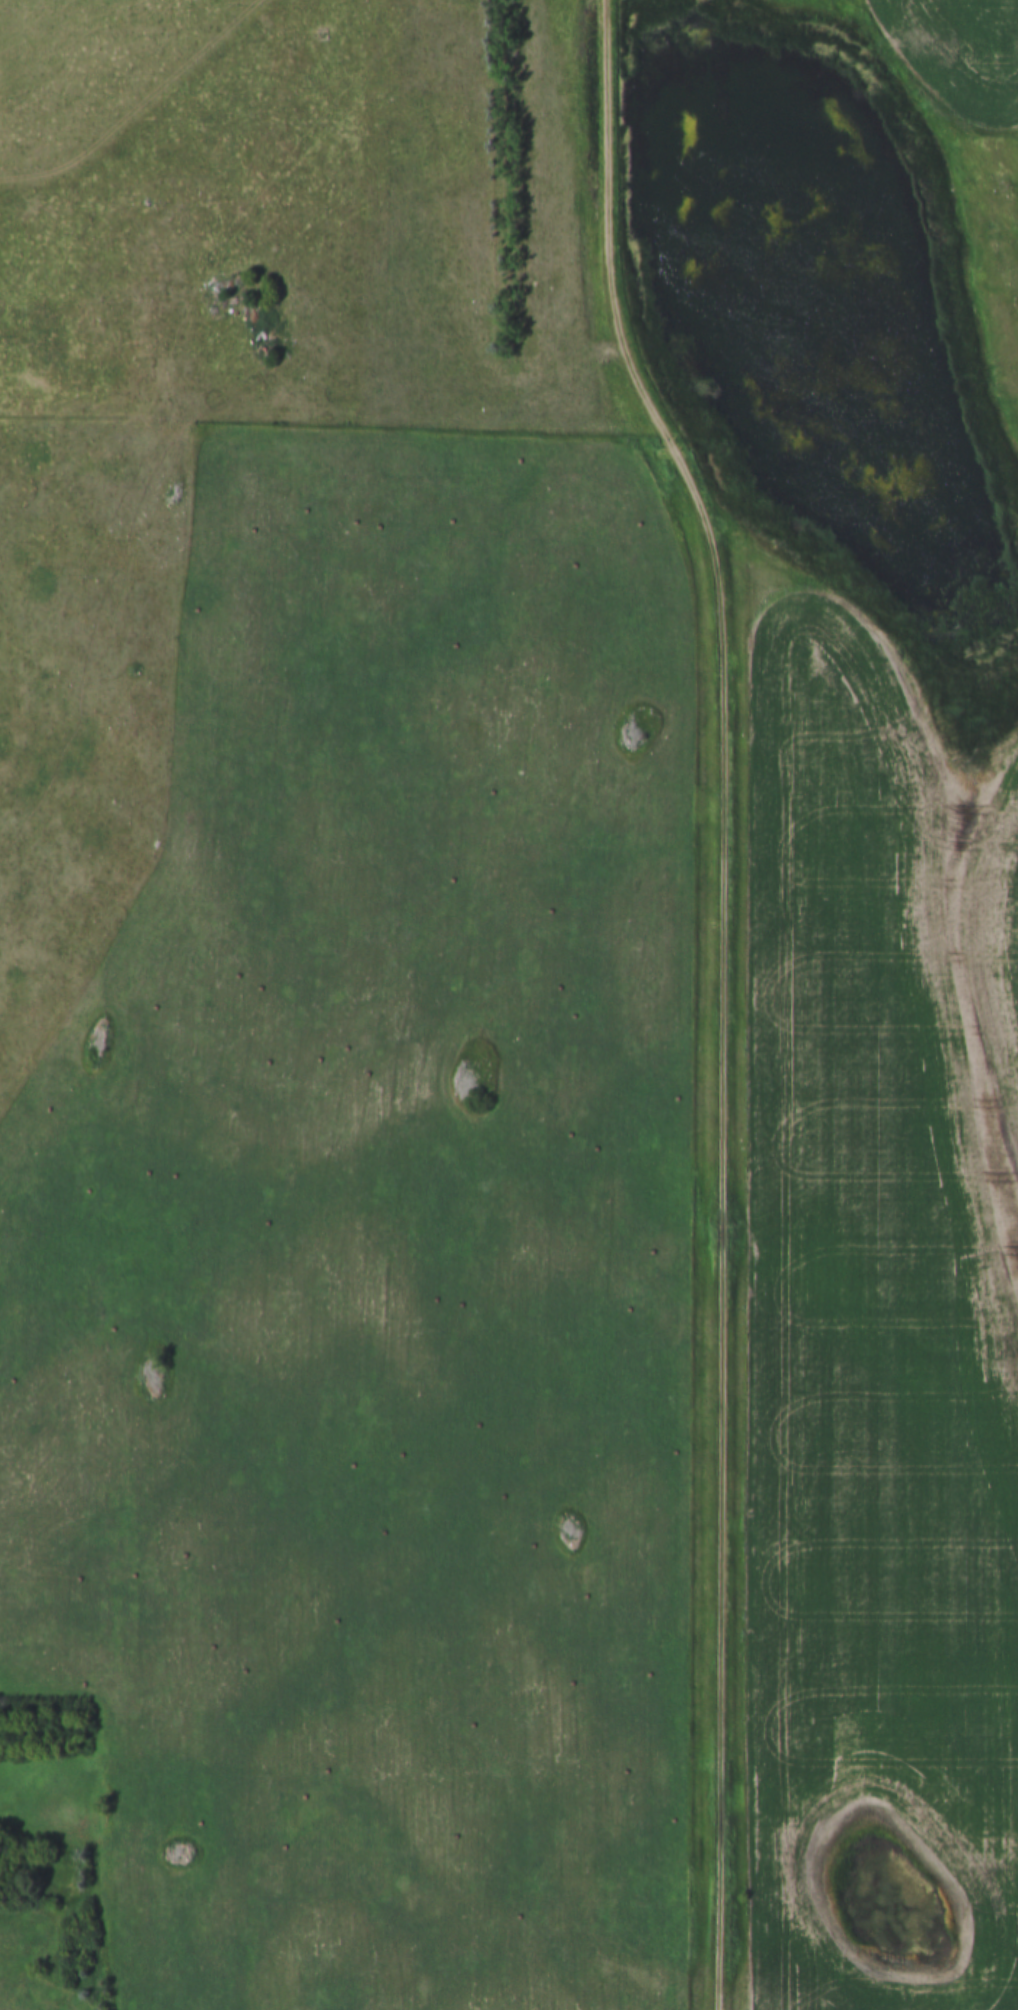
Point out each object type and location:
road: (838, 627)
road: (724, 995)

